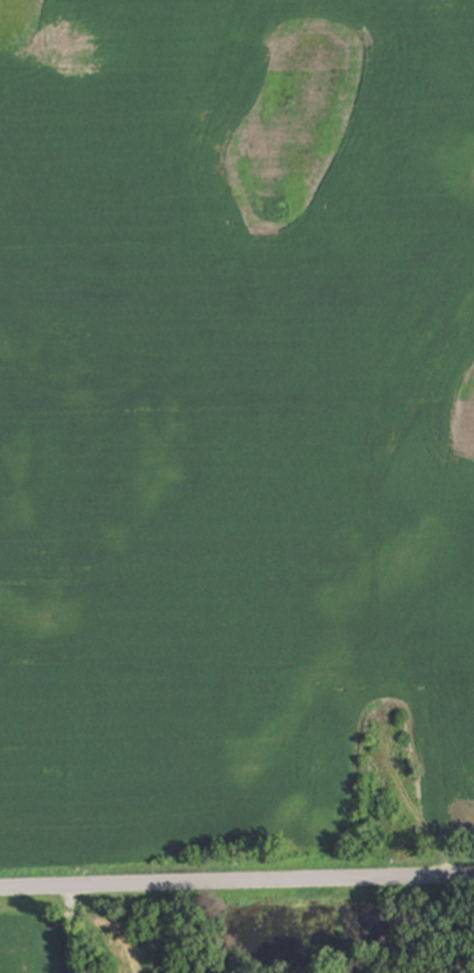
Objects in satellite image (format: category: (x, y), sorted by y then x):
road: (237, 877)

